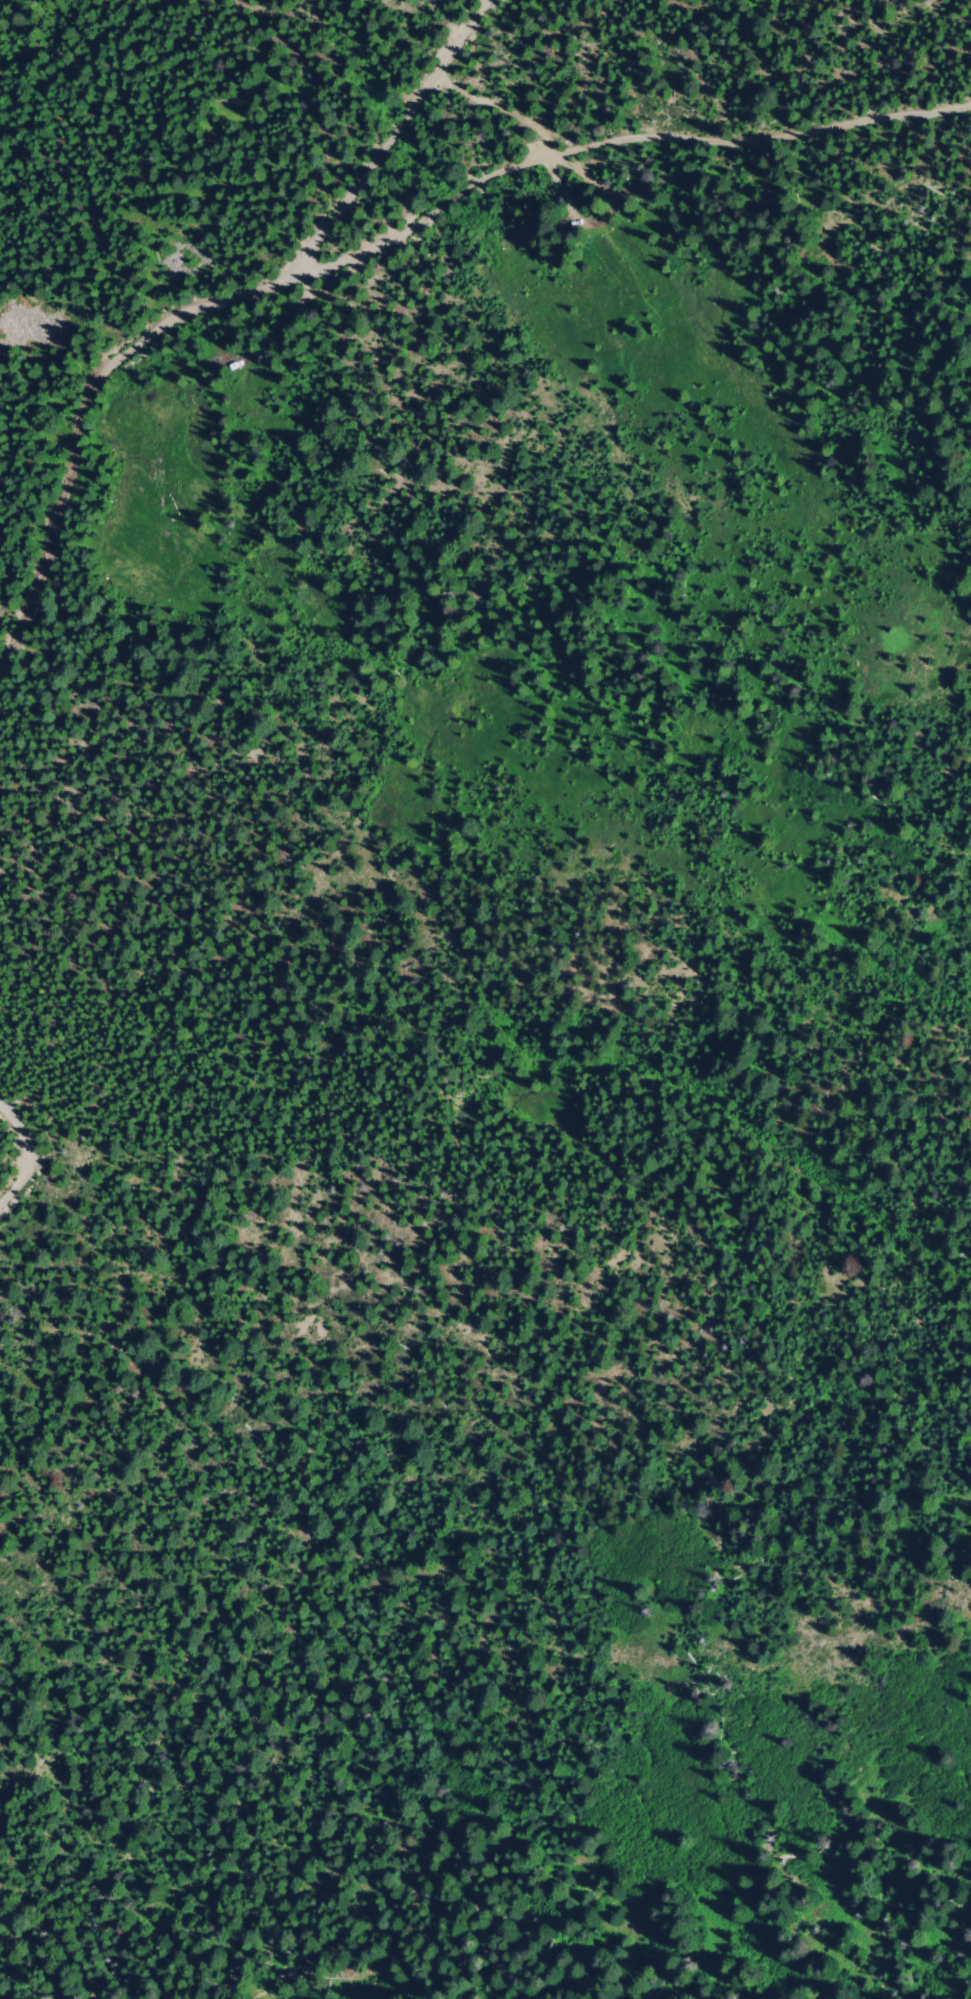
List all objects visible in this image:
road: (340, 124)
road: (622, 133)
road: (343, 273)
road: (200, 305)
road: (23, 1155)

